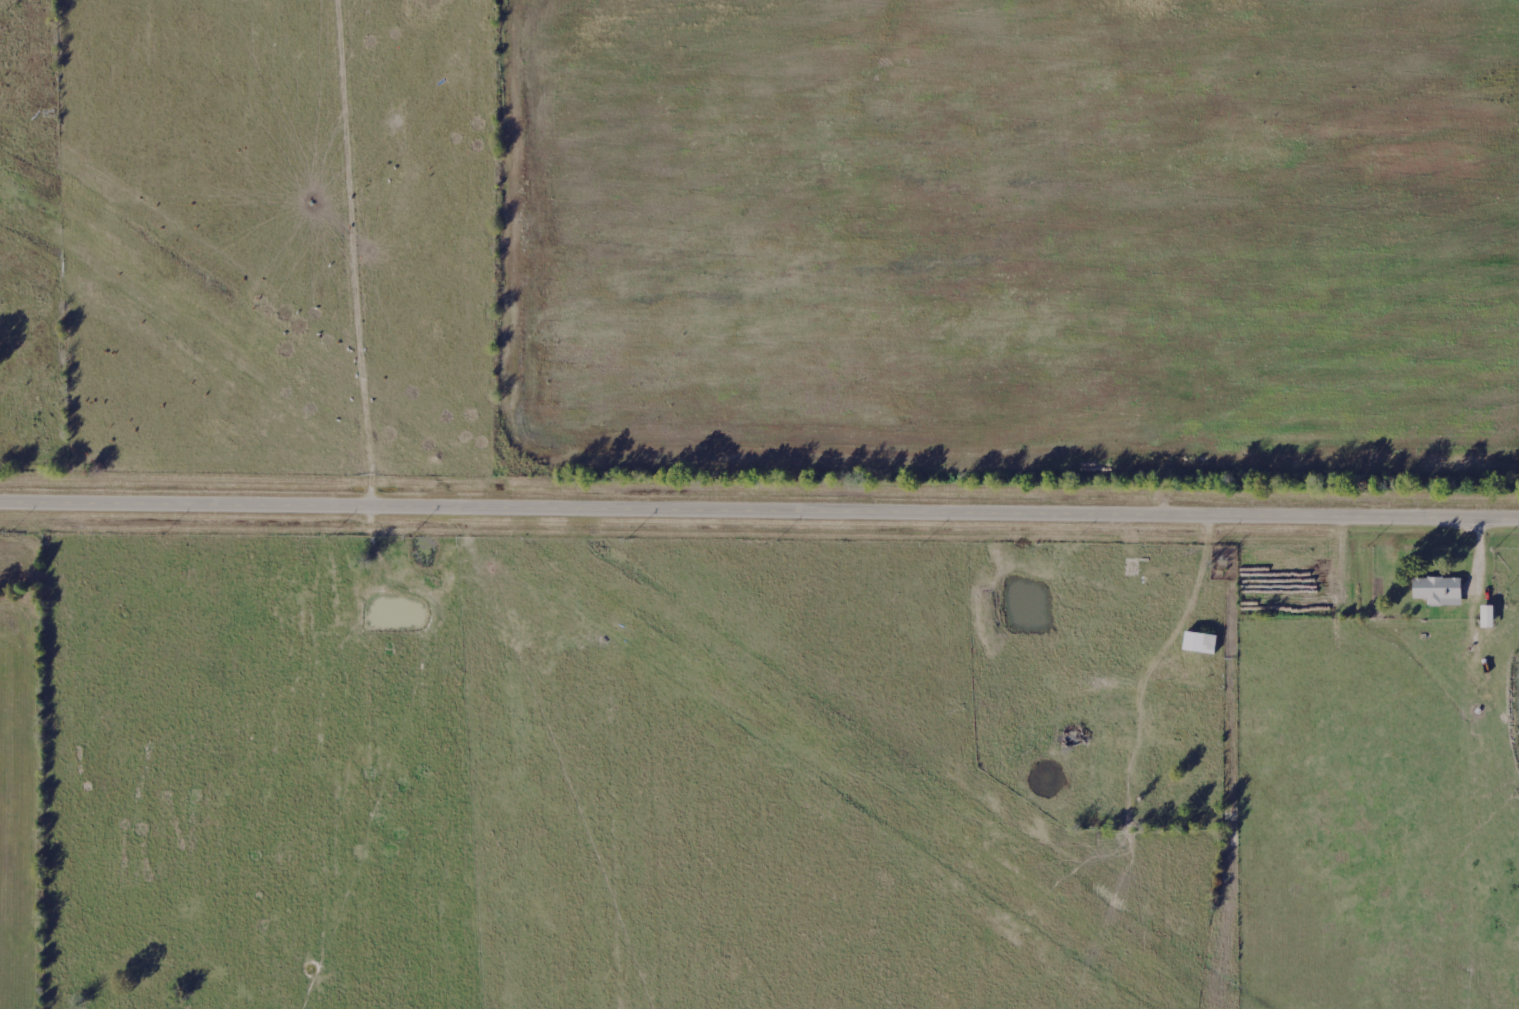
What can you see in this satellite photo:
road: (759, 516)
building: (1438, 590)
building: (1488, 616)
building: (1200, 642)
building: (1117, 695)

